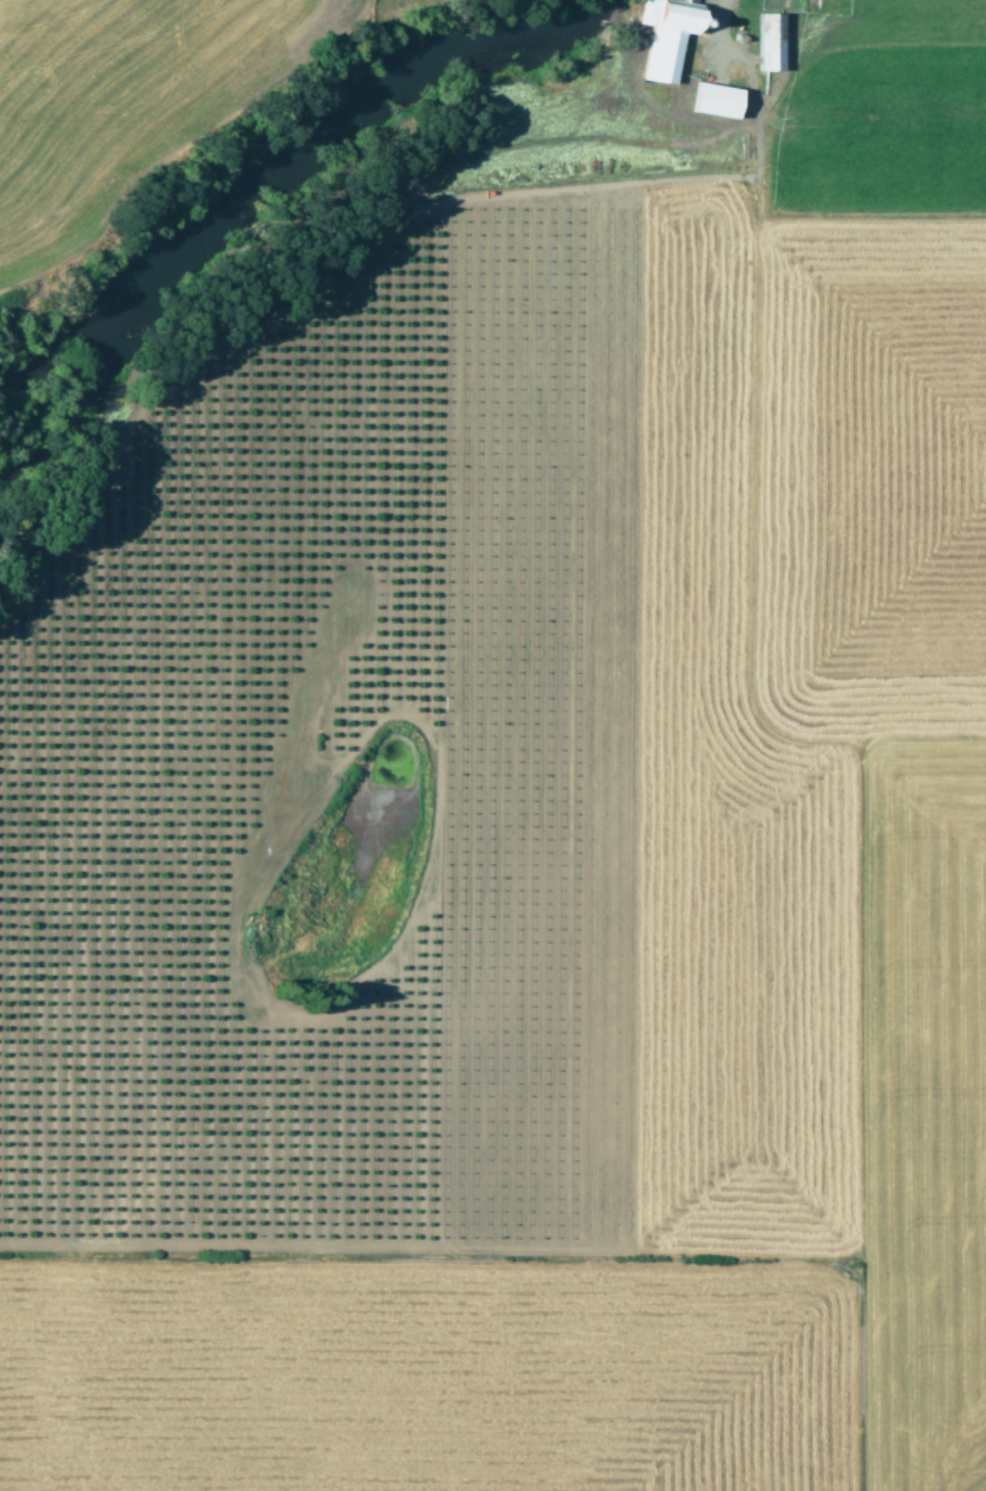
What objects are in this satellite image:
building: (667, 35)
building: (770, 41)
building: (717, 99)
crop: (531, 828)

